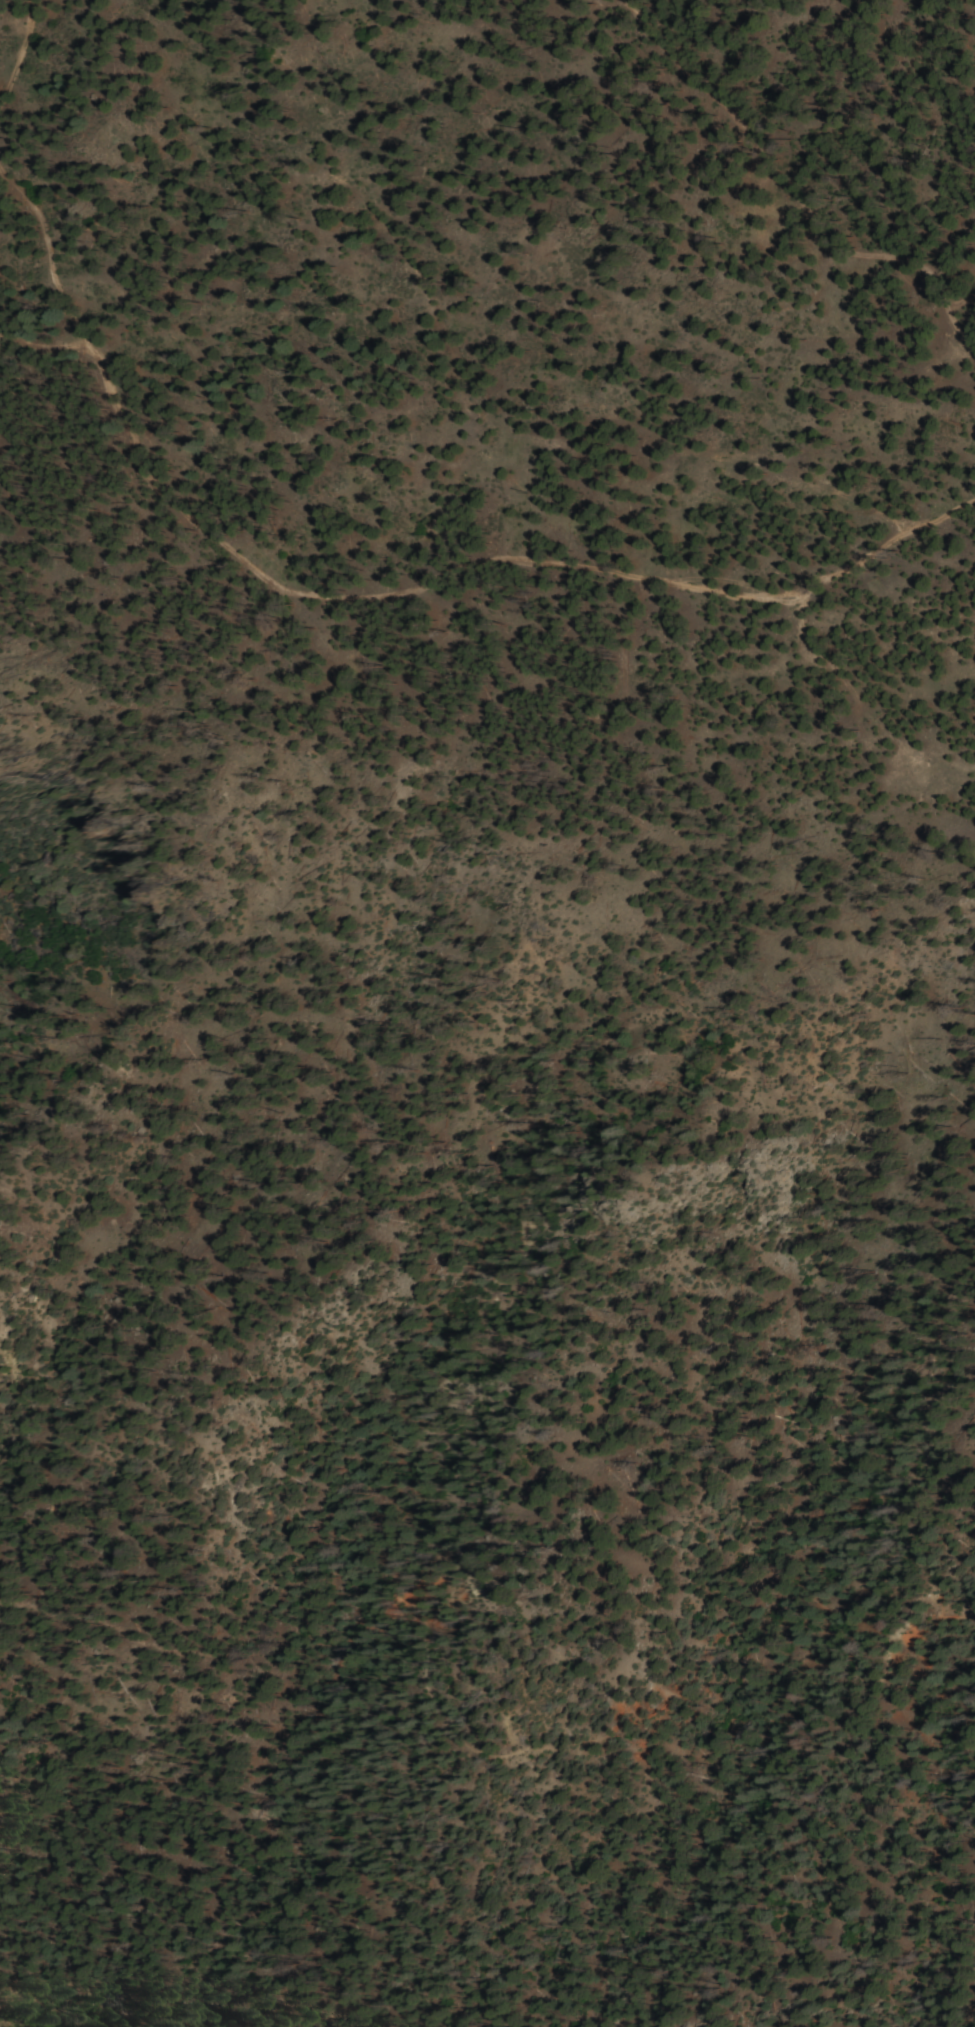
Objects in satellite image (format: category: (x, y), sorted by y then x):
road: (16, 53)
road: (788, 176)
road: (960, 302)
road: (960, 333)
road: (104, 373)
road: (495, 558)
road: (459, 1731)

